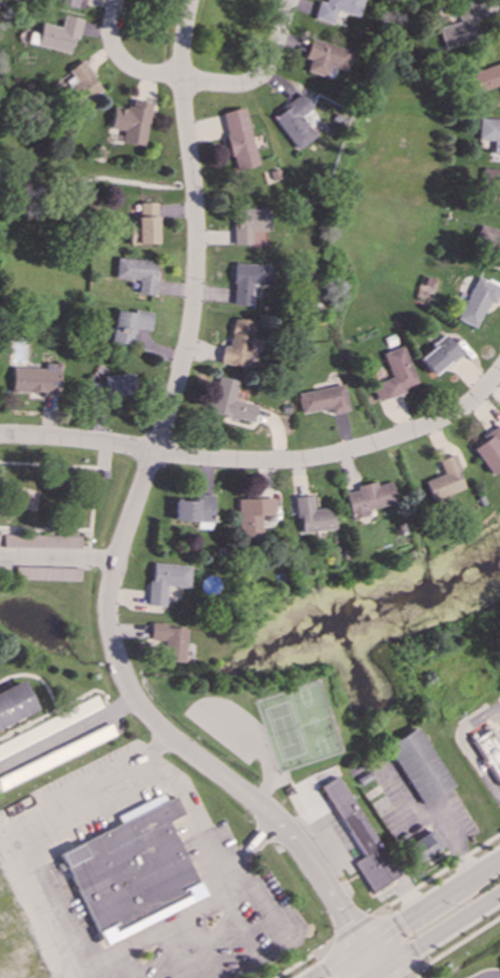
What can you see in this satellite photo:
building: (72, 3)
building: (335, 9)
building: (459, 28)
building: (326, 58)
road: (119, 60)
road: (259, 76)
building: (486, 77)
building: (80, 85)
building: (130, 122)
building: (293, 122)
building: (489, 133)
building: (237, 139)
building: (489, 181)
building: (248, 224)
building: (143, 226)
building: (488, 245)
building: (137, 274)
building: (247, 282)
building: (476, 301)
building: (127, 326)
building: (236, 345)
building: (437, 356)
building: (393, 375)
building: (35, 380)
building: (117, 386)
building: (321, 400)
building: (228, 402)
building: (488, 451)
road: (102, 456)
road: (262, 461)
road: (50, 465)
building: (444, 480)
building: (368, 499)
building: (193, 509)
building: (251, 516)
building: (311, 516)
road: (123, 536)
building: (41, 542)
road: (65, 559)
building: (46, 574)
building: (165, 581)
building: (168, 642)
building: (14, 703)
building: (49, 726)
road: (67, 736)
road: (463, 746)
building: (487, 754)
building: (56, 757)
building: (418, 766)
road: (87, 788)
road: (433, 815)
building: (359, 836)
building: (422, 847)
building: (132, 871)
road: (435, 874)
road: (237, 876)
road: (34, 906)
road: (406, 917)
road: (192, 918)
road: (350, 929)
road: (436, 934)
road: (403, 937)
road: (454, 946)
traffic signals: (362, 947)
road: (302, 960)
road: (320, 965)
road: (93, 973)
traffic signals: (380, 974)
road: (406, 977)

